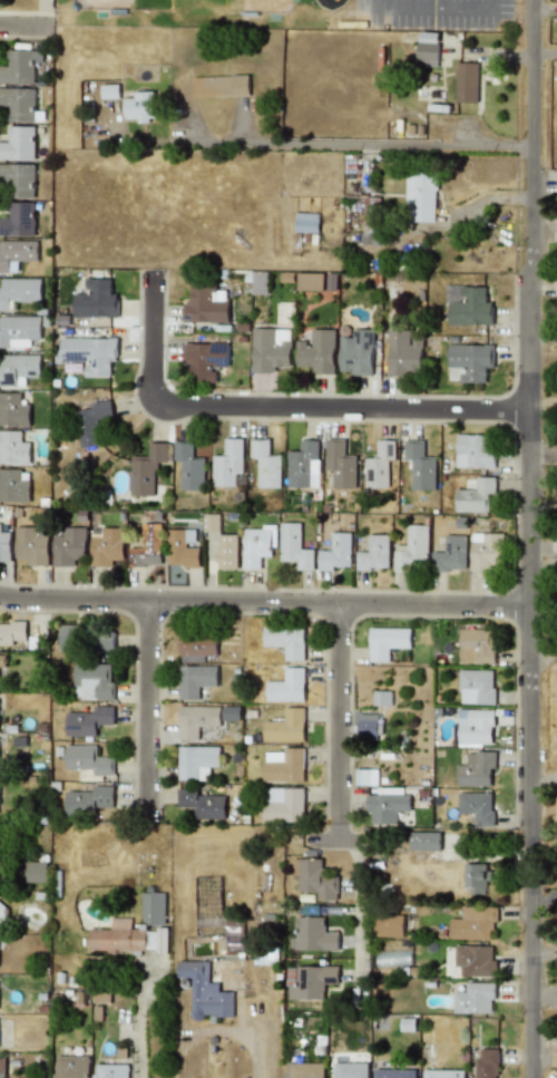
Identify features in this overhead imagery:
road: (436, 6)
road: (543, 10)
road: (26, 29)
building: (427, 50)
building: (19, 67)
building: (466, 82)
building: (219, 86)
building: (109, 91)
building: (18, 104)
building: (139, 107)
road: (355, 143)
building: (18, 144)
building: (17, 179)
building: (420, 197)
building: (18, 220)
building: (306, 223)
building: (16, 254)
building: (309, 281)
building: (258, 283)
building: (19, 292)
building: (96, 300)
building: (206, 304)
building: (468, 305)
building: (19, 331)
building: (270, 349)
building: (316, 351)
building: (355, 352)
building: (90, 353)
building: (403, 353)
building: (205, 360)
building: (468, 362)
building: (19, 369)
road: (281, 406)
building: (13, 410)
building: (92, 423)
building: (13, 448)
building: (473, 451)
road: (543, 462)
building: (227, 463)
building: (265, 464)
building: (340, 464)
building: (303, 465)
building: (379, 465)
building: (420, 466)
building: (189, 467)
building: (146, 469)
building: (14, 485)
building: (475, 495)
building: (211, 524)
road: (528, 538)
building: (32, 545)
building: (257, 545)
building: (4, 546)
building: (68, 546)
building: (107, 546)
building: (147, 546)
building: (294, 546)
building: (182, 548)
building: (413, 550)
building: (227, 552)
building: (486, 552)
building: (335, 553)
building: (374, 553)
building: (450, 553)
road: (263, 604)
building: (12, 632)
building: (85, 637)
building: (285, 641)
building: (387, 642)
building: (197, 644)
building: (476, 645)
road: (543, 654)
building: (2, 661)
building: (194, 680)
building: (92, 681)
building: (286, 687)
building: (476, 687)
building: (381, 698)
road: (147, 713)
building: (88, 720)
building: (196, 720)
road: (338, 722)
building: (365, 726)
building: (284, 727)
building: (475, 728)
building: (87, 759)
building: (196, 761)
building: (284, 765)
building: (476, 769)
building: (88, 799)
building: (202, 804)
building: (283, 805)
building: (385, 807)
building: (477, 807)
building: (424, 842)
building: (475, 878)
road: (544, 897)
building: (153, 909)
road: (360, 912)
building: (3, 914)
building: (472, 923)
building: (388, 925)
building: (312, 935)
building: (127, 936)
road: (544, 953)
building: (475, 961)
building: (312, 981)
building: (204, 992)
road: (140, 993)
building: (475, 998)
building: (408, 1024)
building: (486, 1064)
building: (70, 1067)
building: (2, 1068)
building: (303, 1070)
building: (349, 1070)
building: (109, 1071)
building: (393, 1074)
building: (442, 1074)

